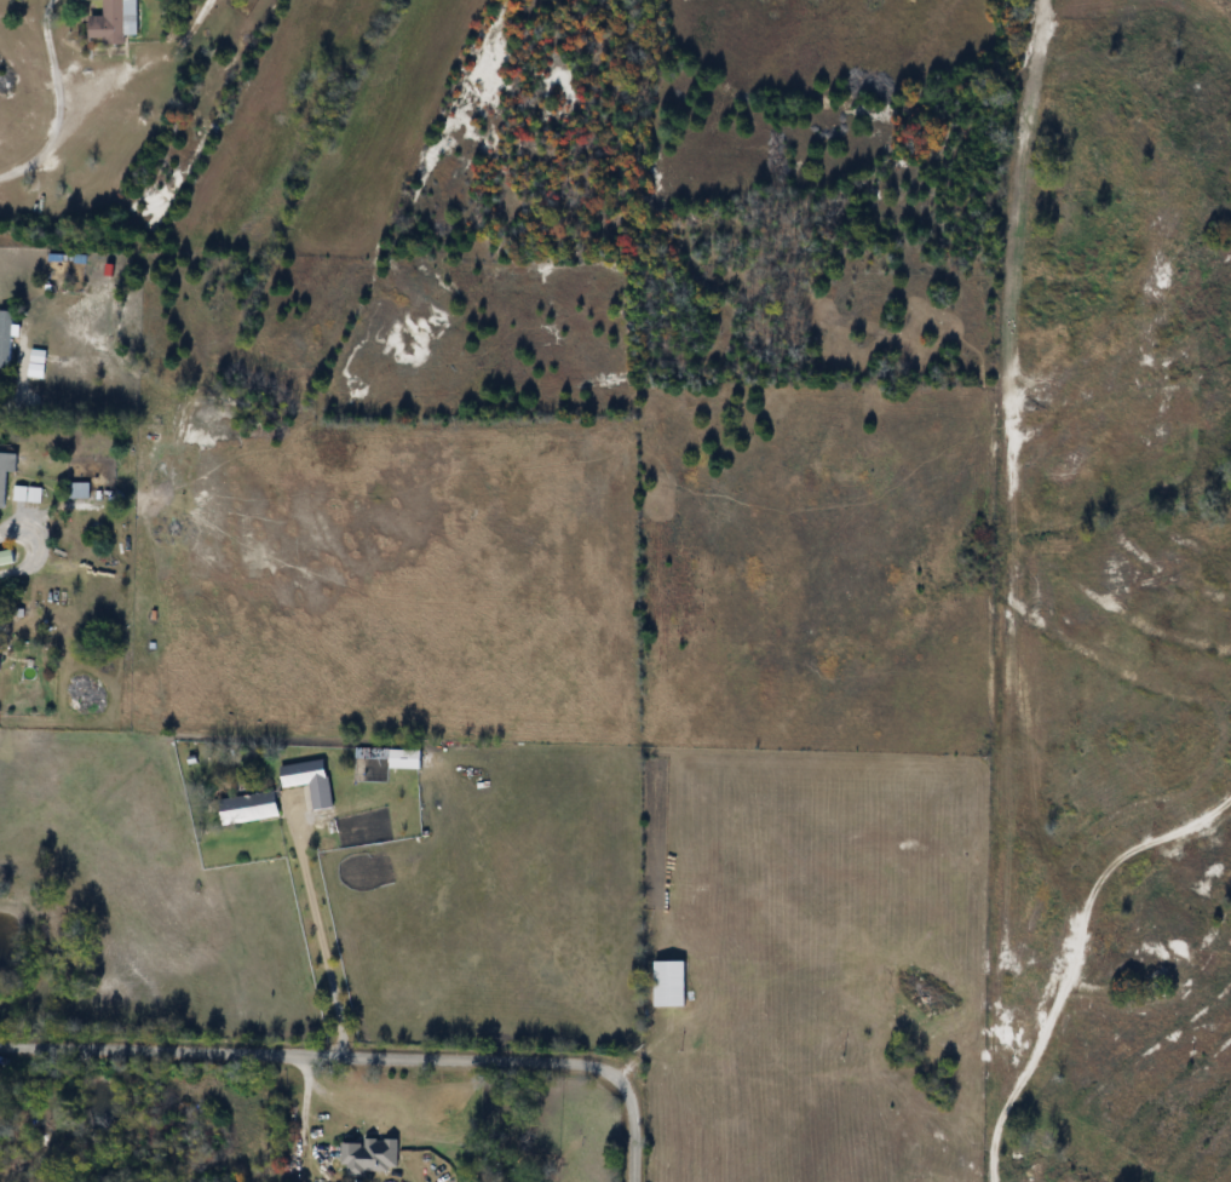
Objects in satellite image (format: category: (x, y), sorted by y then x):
building: (116, 22)
road: (59, 105)
building: (6, 340)
road: (21, 395)
building: (6, 475)
building: (80, 490)
building: (27, 495)
road: (35, 545)
building: (408, 759)
building: (311, 782)
building: (249, 809)
road: (323, 942)
building: (672, 986)
road: (364, 1057)
road: (303, 1118)
building: (370, 1159)

